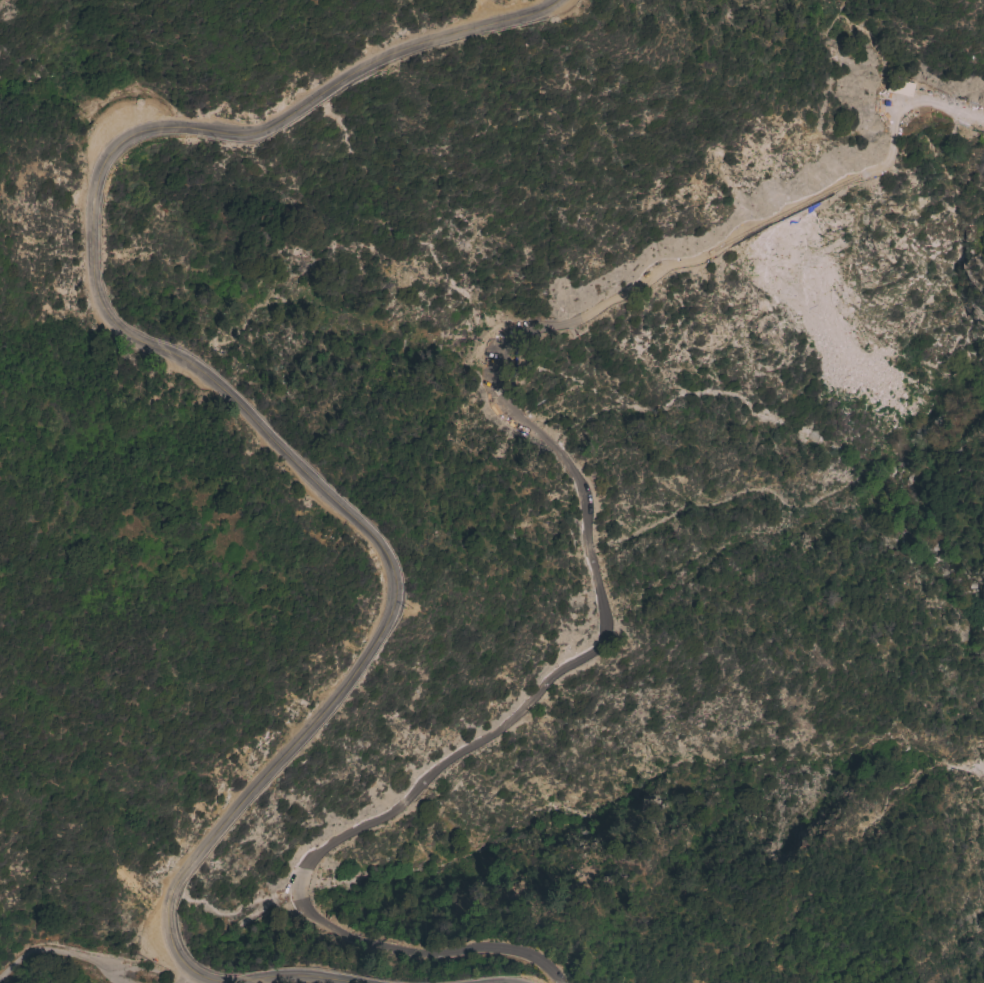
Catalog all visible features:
building: (965, 127)
road: (205, 378)
road: (593, 533)
road: (59, 953)
road: (291, 978)
road: (191, 979)

